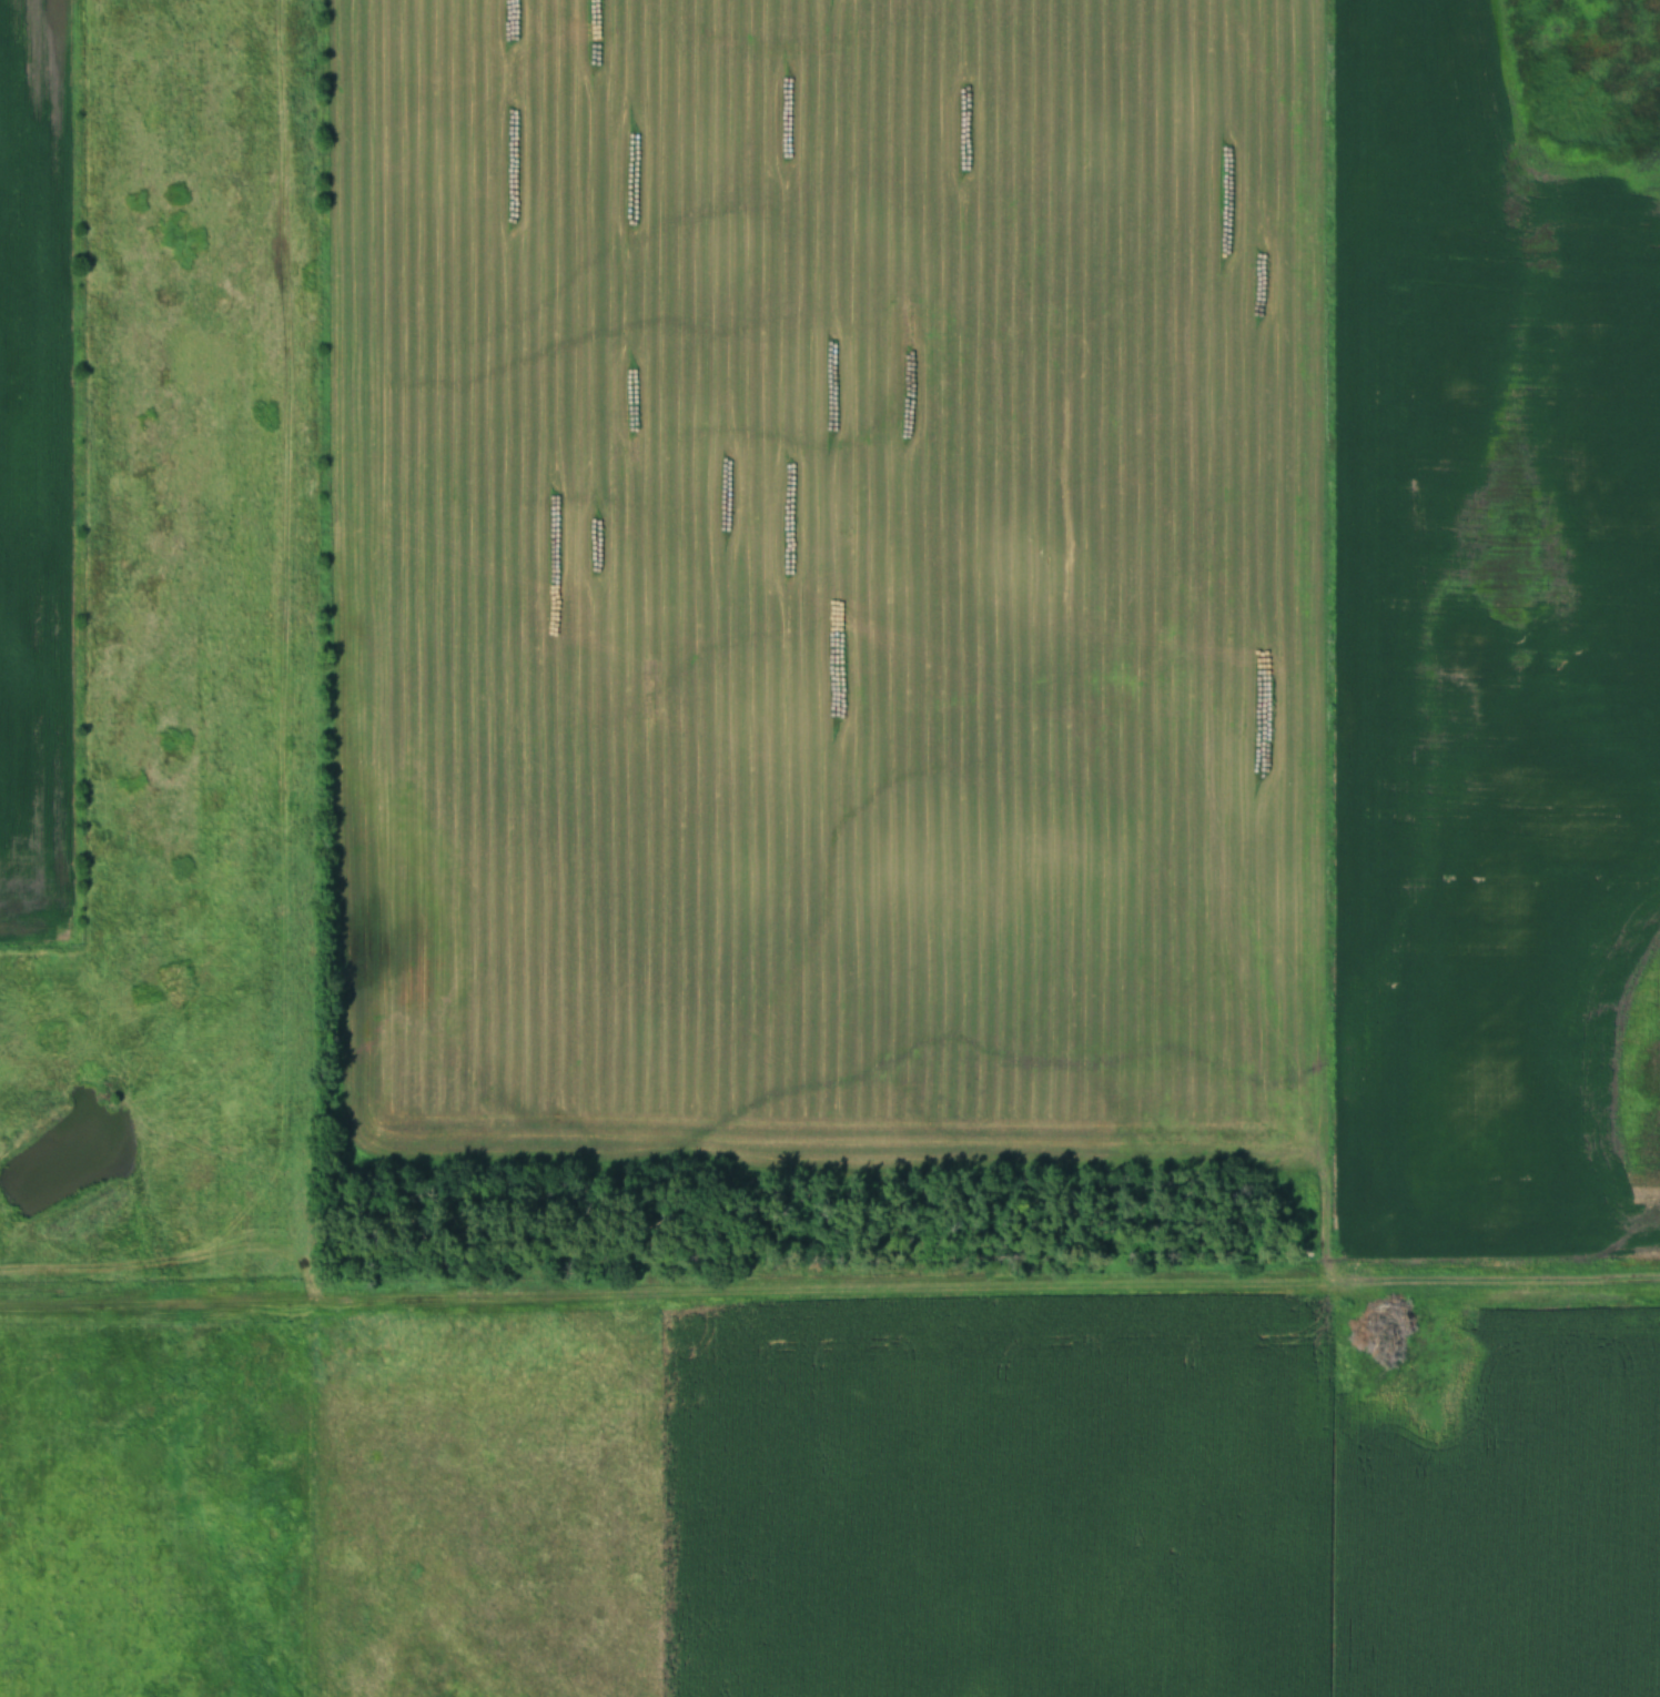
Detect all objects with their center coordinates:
road: (829, 1287)

